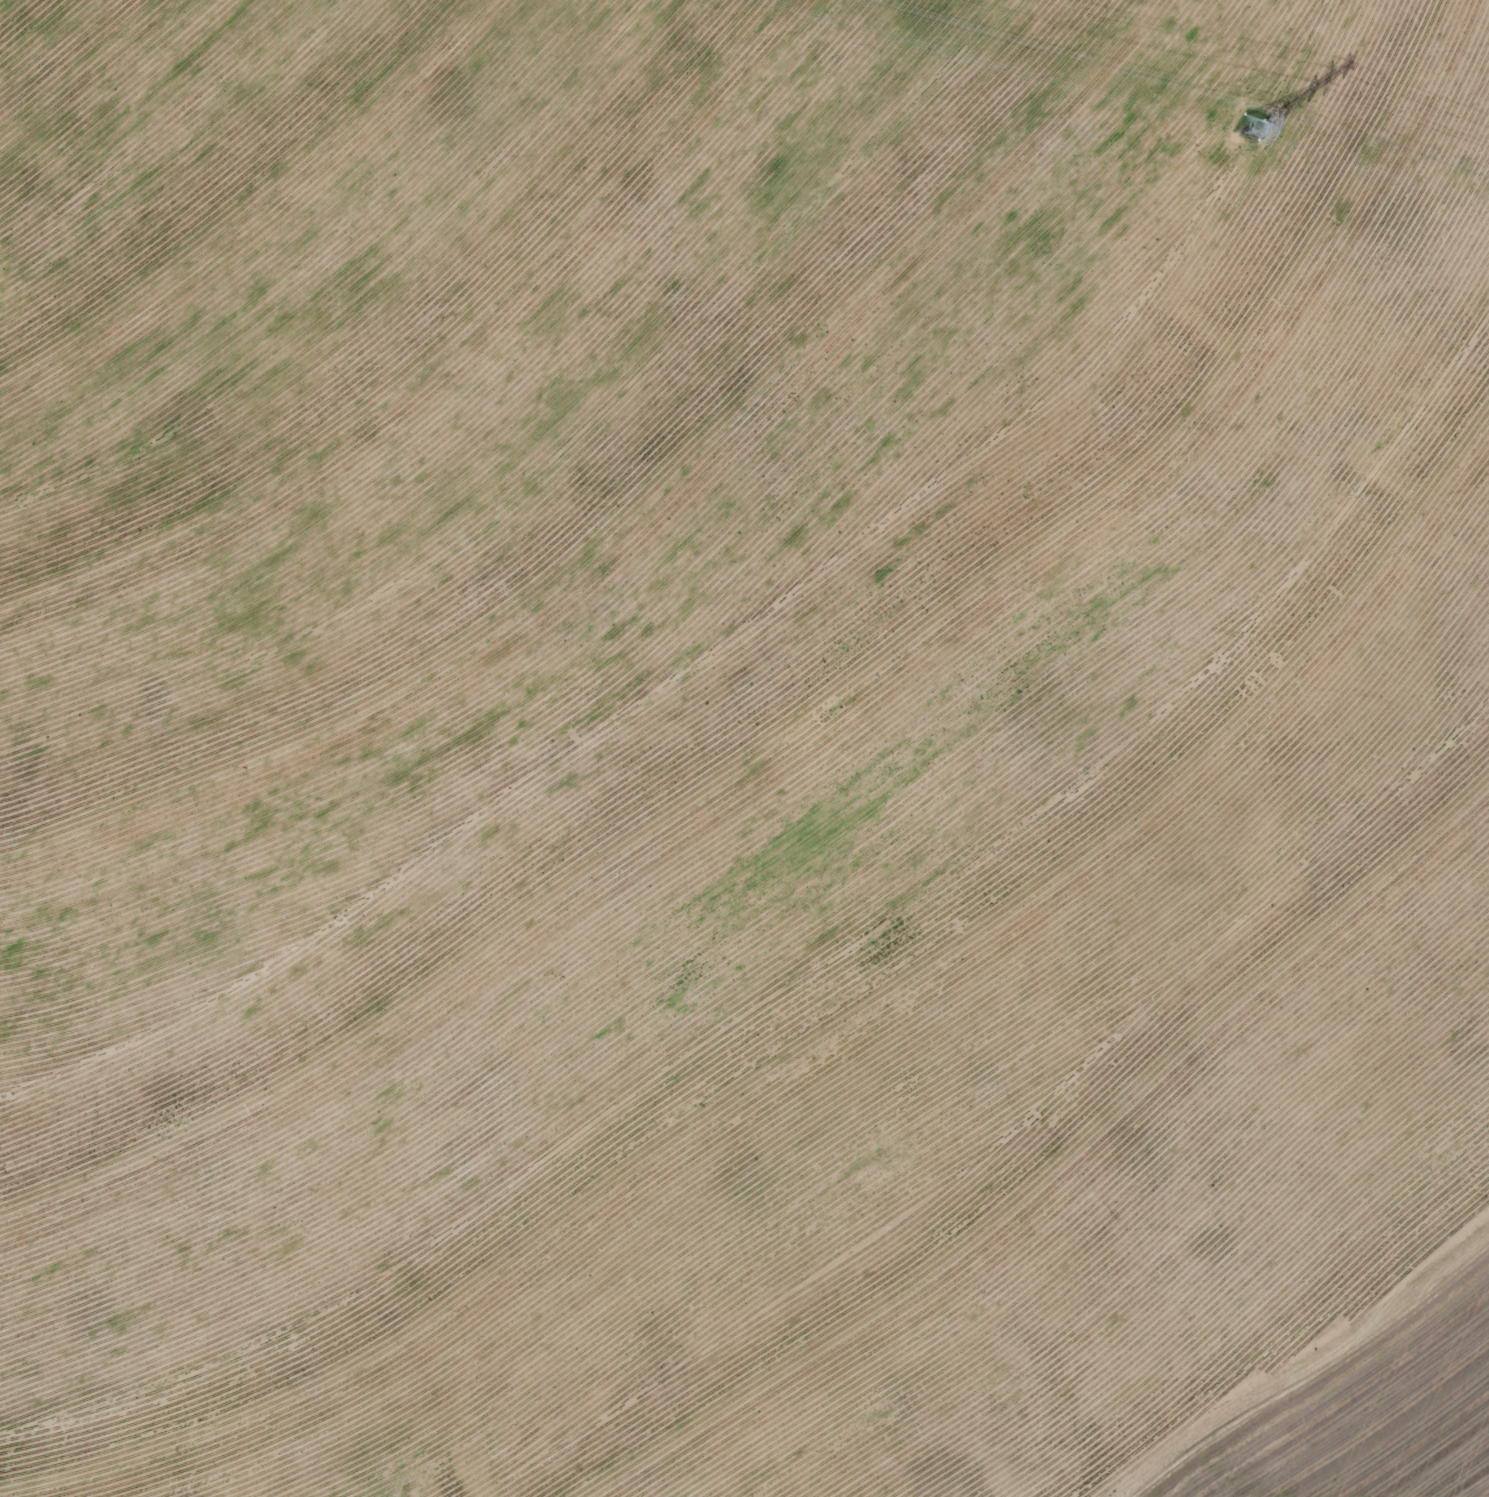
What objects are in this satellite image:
power tower: (1247, 127)

